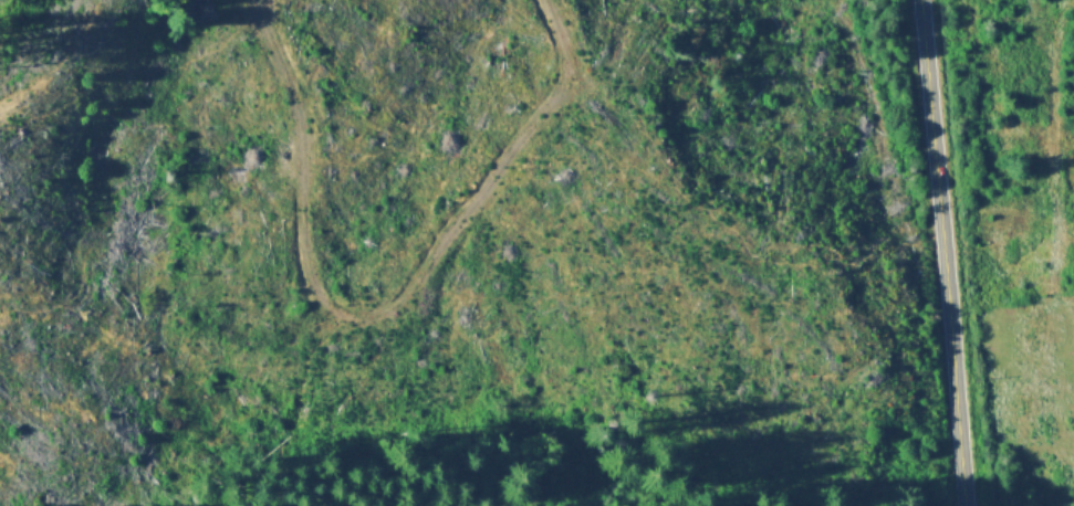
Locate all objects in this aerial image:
road: (945, 253)

